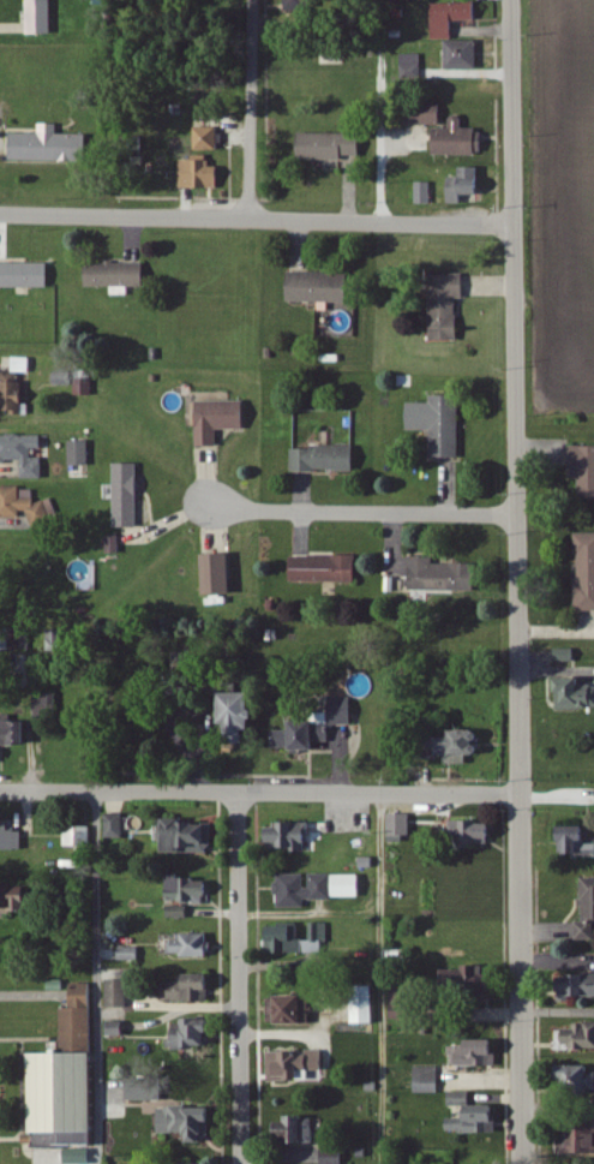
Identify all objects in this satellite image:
building: (41, 17)
building: (451, 18)
building: (463, 55)
building: (412, 66)
road: (248, 111)
building: (426, 115)
building: (210, 136)
building: (458, 139)
building: (46, 145)
building: (330, 147)
building: (202, 174)
building: (466, 185)
building: (425, 193)
road: (256, 221)
building: (25, 276)
building: (116, 277)
building: (320, 288)
building: (446, 306)
building: (84, 387)
building: (16, 388)
building: (220, 419)
building: (440, 424)
building: (24, 454)
building: (80, 454)
building: (326, 460)
building: (583, 470)
building: (127, 496)
building: (25, 506)
road: (360, 513)
building: (325, 569)
building: (586, 572)
building: (218, 574)
building: (442, 575)
road: (514, 581)
building: (565, 656)
building: (576, 694)
building: (342, 711)
building: (244, 715)
building: (13, 732)
building: (298, 738)
building: (336, 738)
building: (461, 748)
road: (259, 795)
building: (115, 826)
building: (400, 829)
building: (473, 834)
building: (80, 836)
building: (11, 837)
building: (190, 837)
building: (292, 837)
building: (577, 841)
building: (317, 889)
building: (190, 891)
building: (14, 899)
building: (587, 913)
building: (318, 938)
building: (286, 939)
building: (192, 947)
road: (94, 979)
road: (235, 979)
road: (380, 979)
building: (467, 980)
building: (580, 987)
building: (193, 990)
building: (118, 993)
road: (32, 997)
building: (407, 1005)
building: (366, 1007)
building: (298, 1011)
building: (118, 1029)
building: (191, 1034)
building: (577, 1039)
building: (475, 1055)
building: (300, 1067)
building: (66, 1080)
building: (578, 1080)
building: (427, 1081)
building: (146, 1091)
building: (472, 1117)
building: (190, 1124)
building: (296, 1132)
building: (580, 1141)
building: (79, 1157)
building: (335, 1158)

